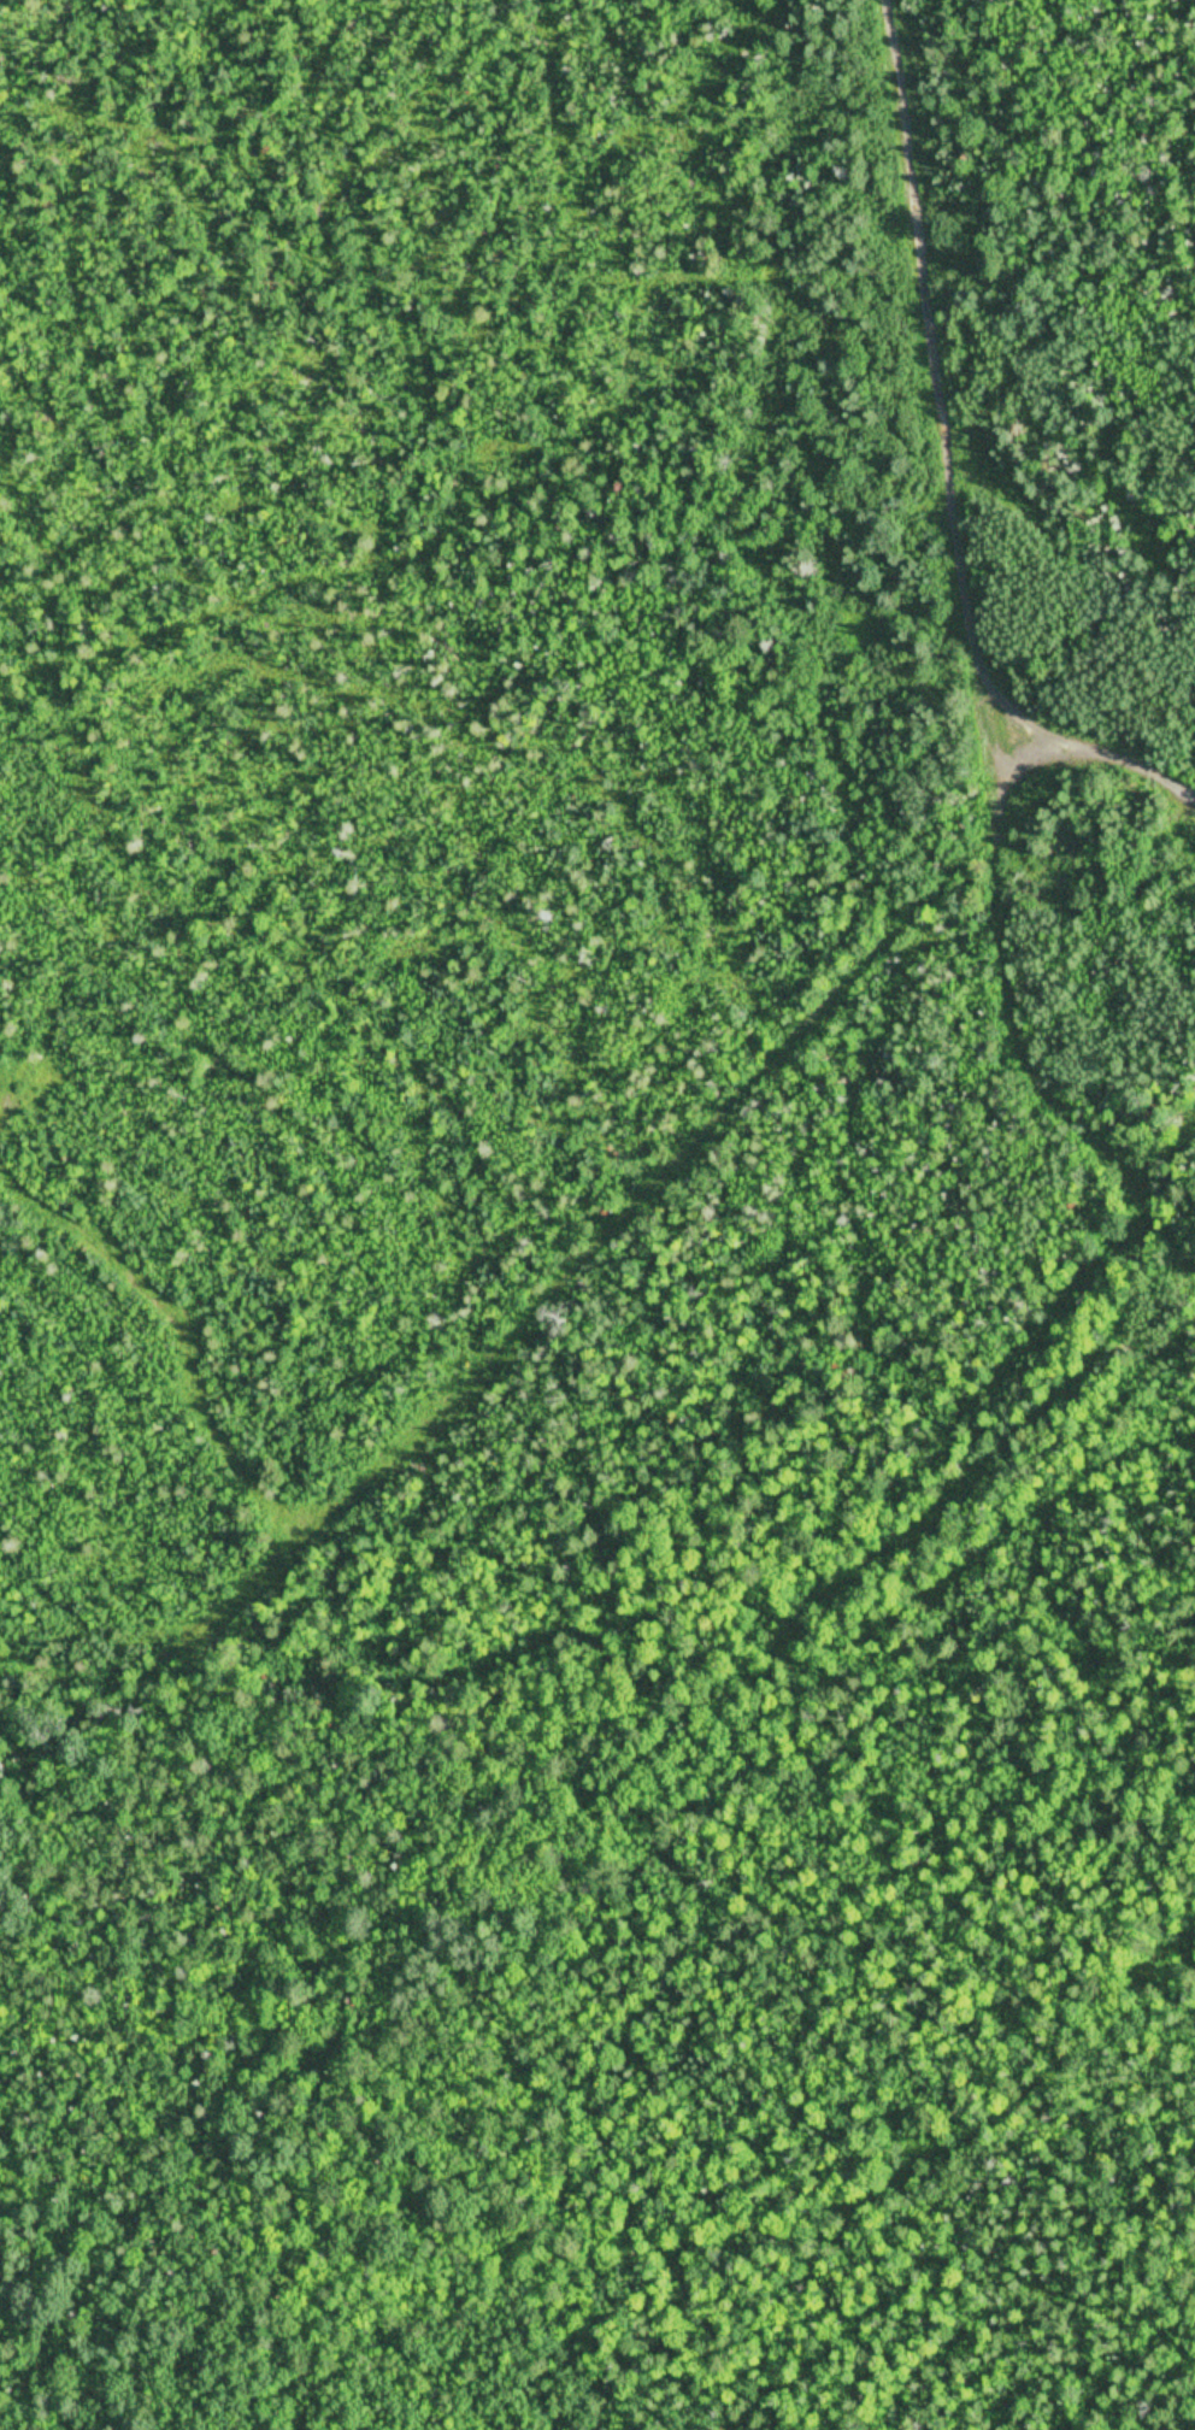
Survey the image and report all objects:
road: (978, 640)
road: (1091, 758)

